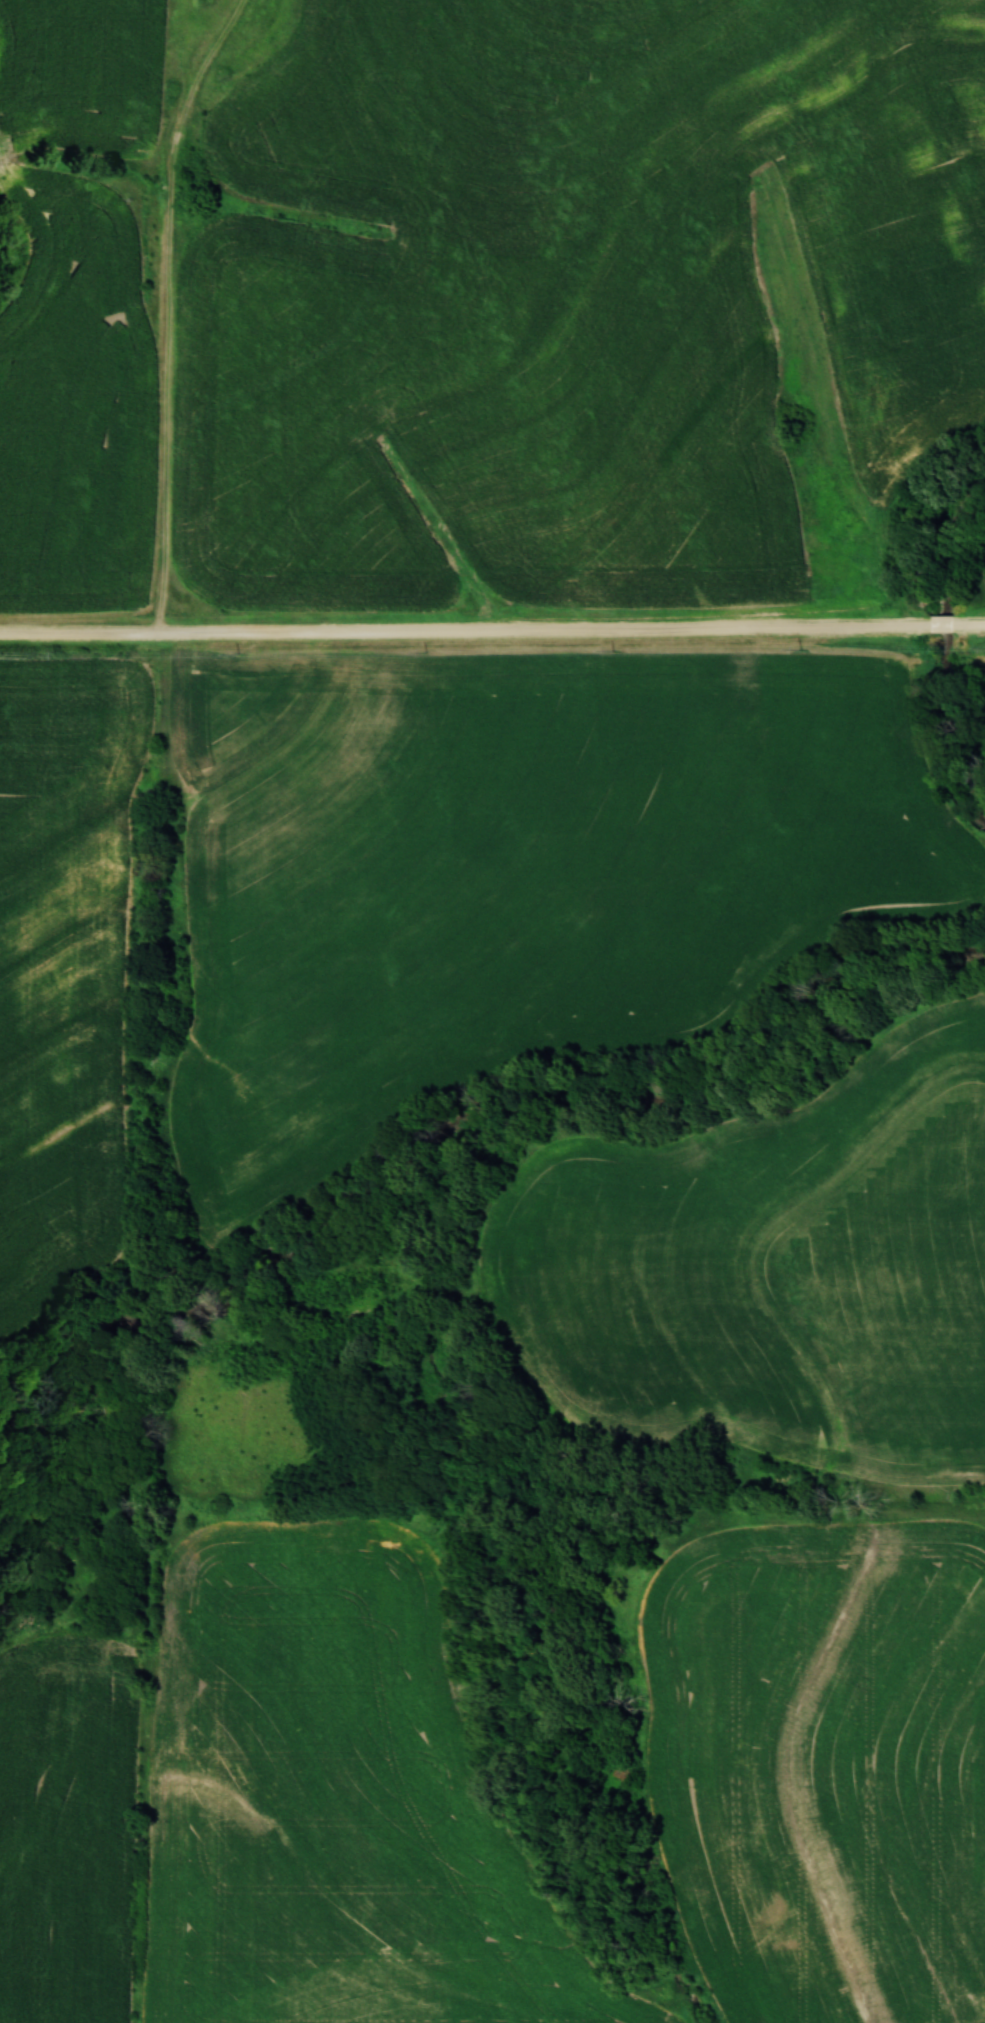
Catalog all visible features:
road: (167, 310)
road: (492, 633)

